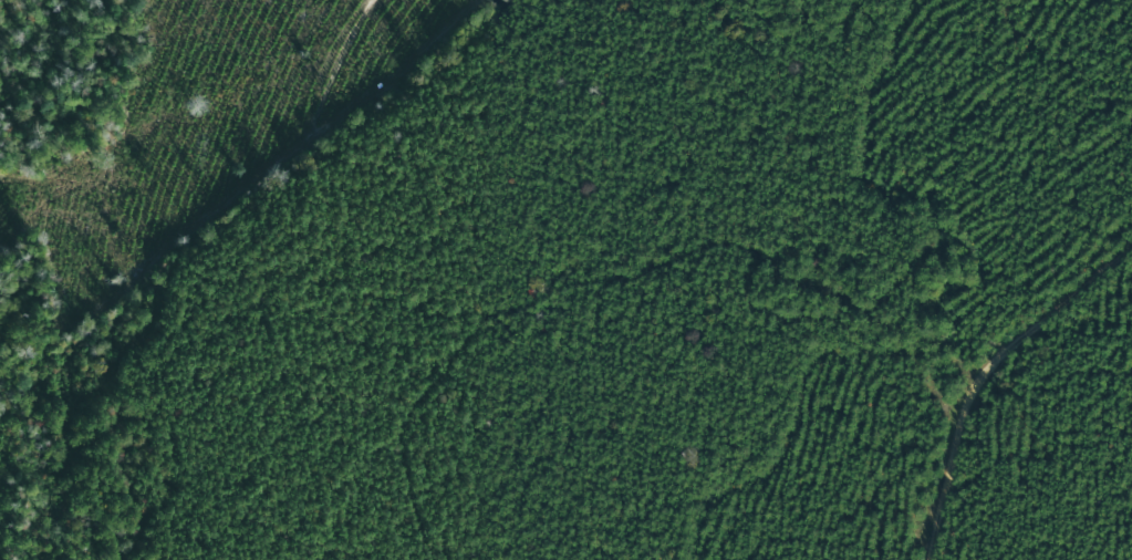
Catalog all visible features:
road: (1016, 372)

